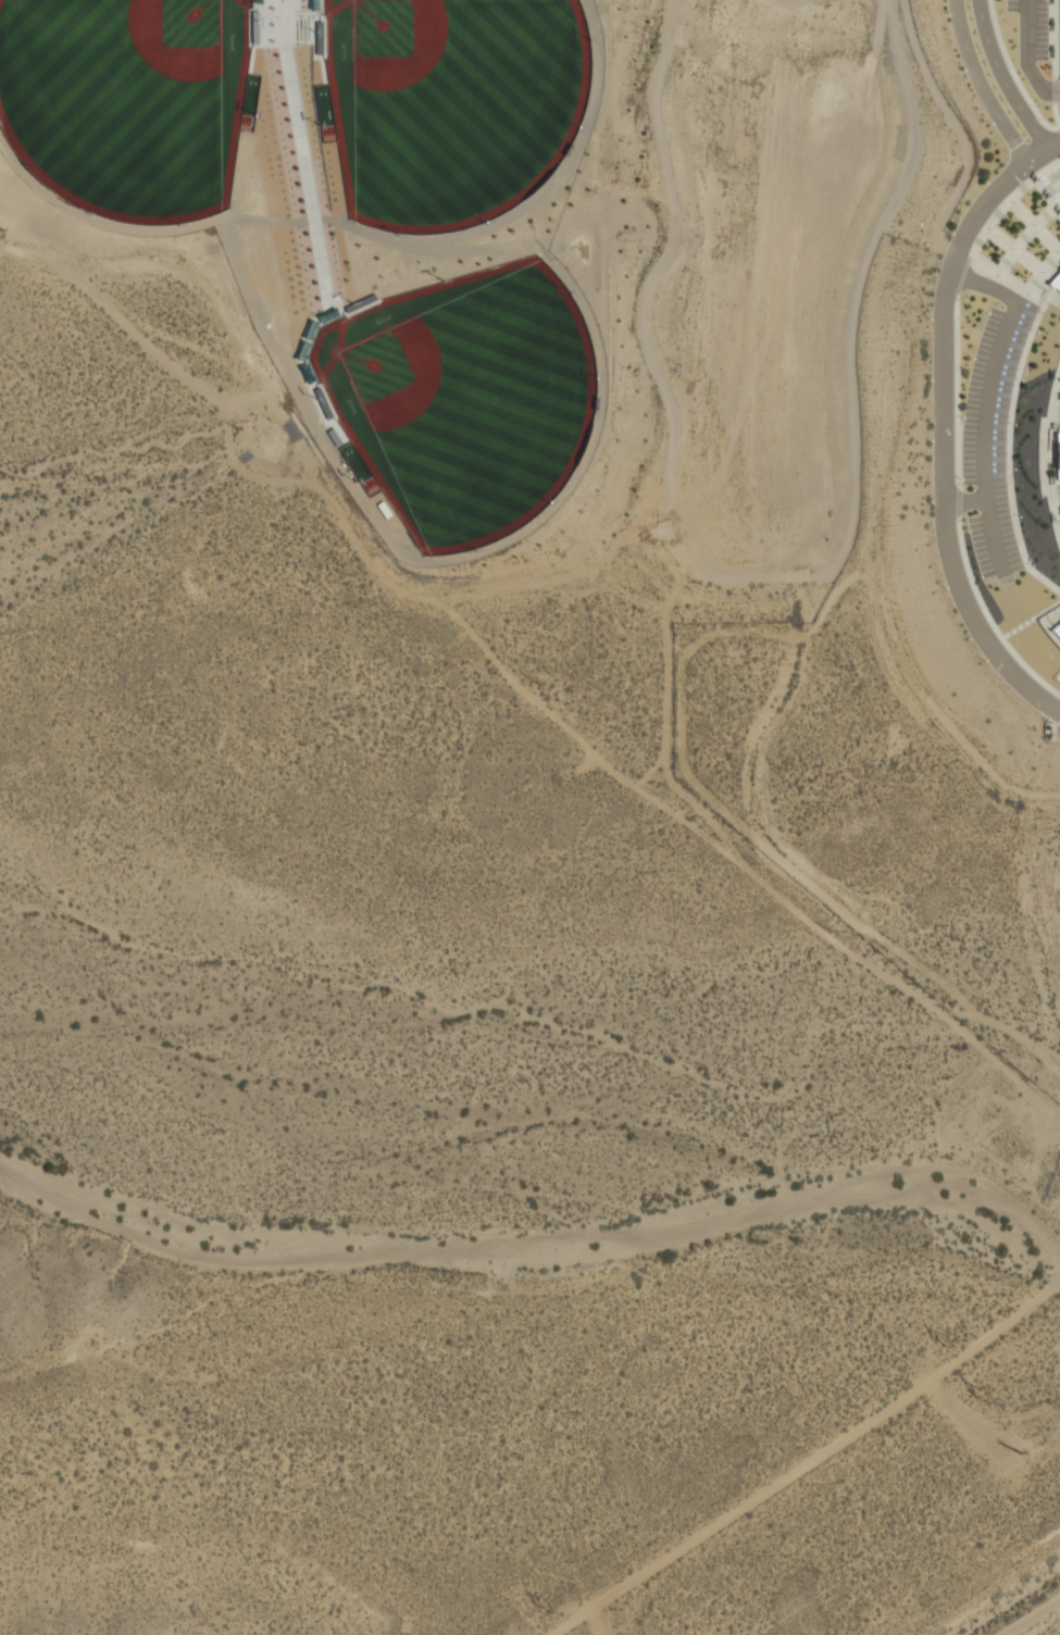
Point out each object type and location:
road: (279, 8)
parking lot: (1037, 45)
road: (1033, 52)
road: (1003, 77)
road: (981, 84)
park: (127, 99)
park: (450, 104)
road: (307, 161)
stadium: (392, 224)
stadium: (1052, 291)
park: (463, 398)
road: (987, 402)
stadium: (1015, 417)
road: (947, 420)
stadium: (1050, 455)
road: (969, 499)
building: (1059, 587)
building: (1053, 622)
stadium: (1051, 624)
power tower: (949, 1339)
power tower: (983, 1395)
power tower: (1027, 1452)
road: (806, 1461)
power tower: (548, 1606)
road: (1031, 1617)

